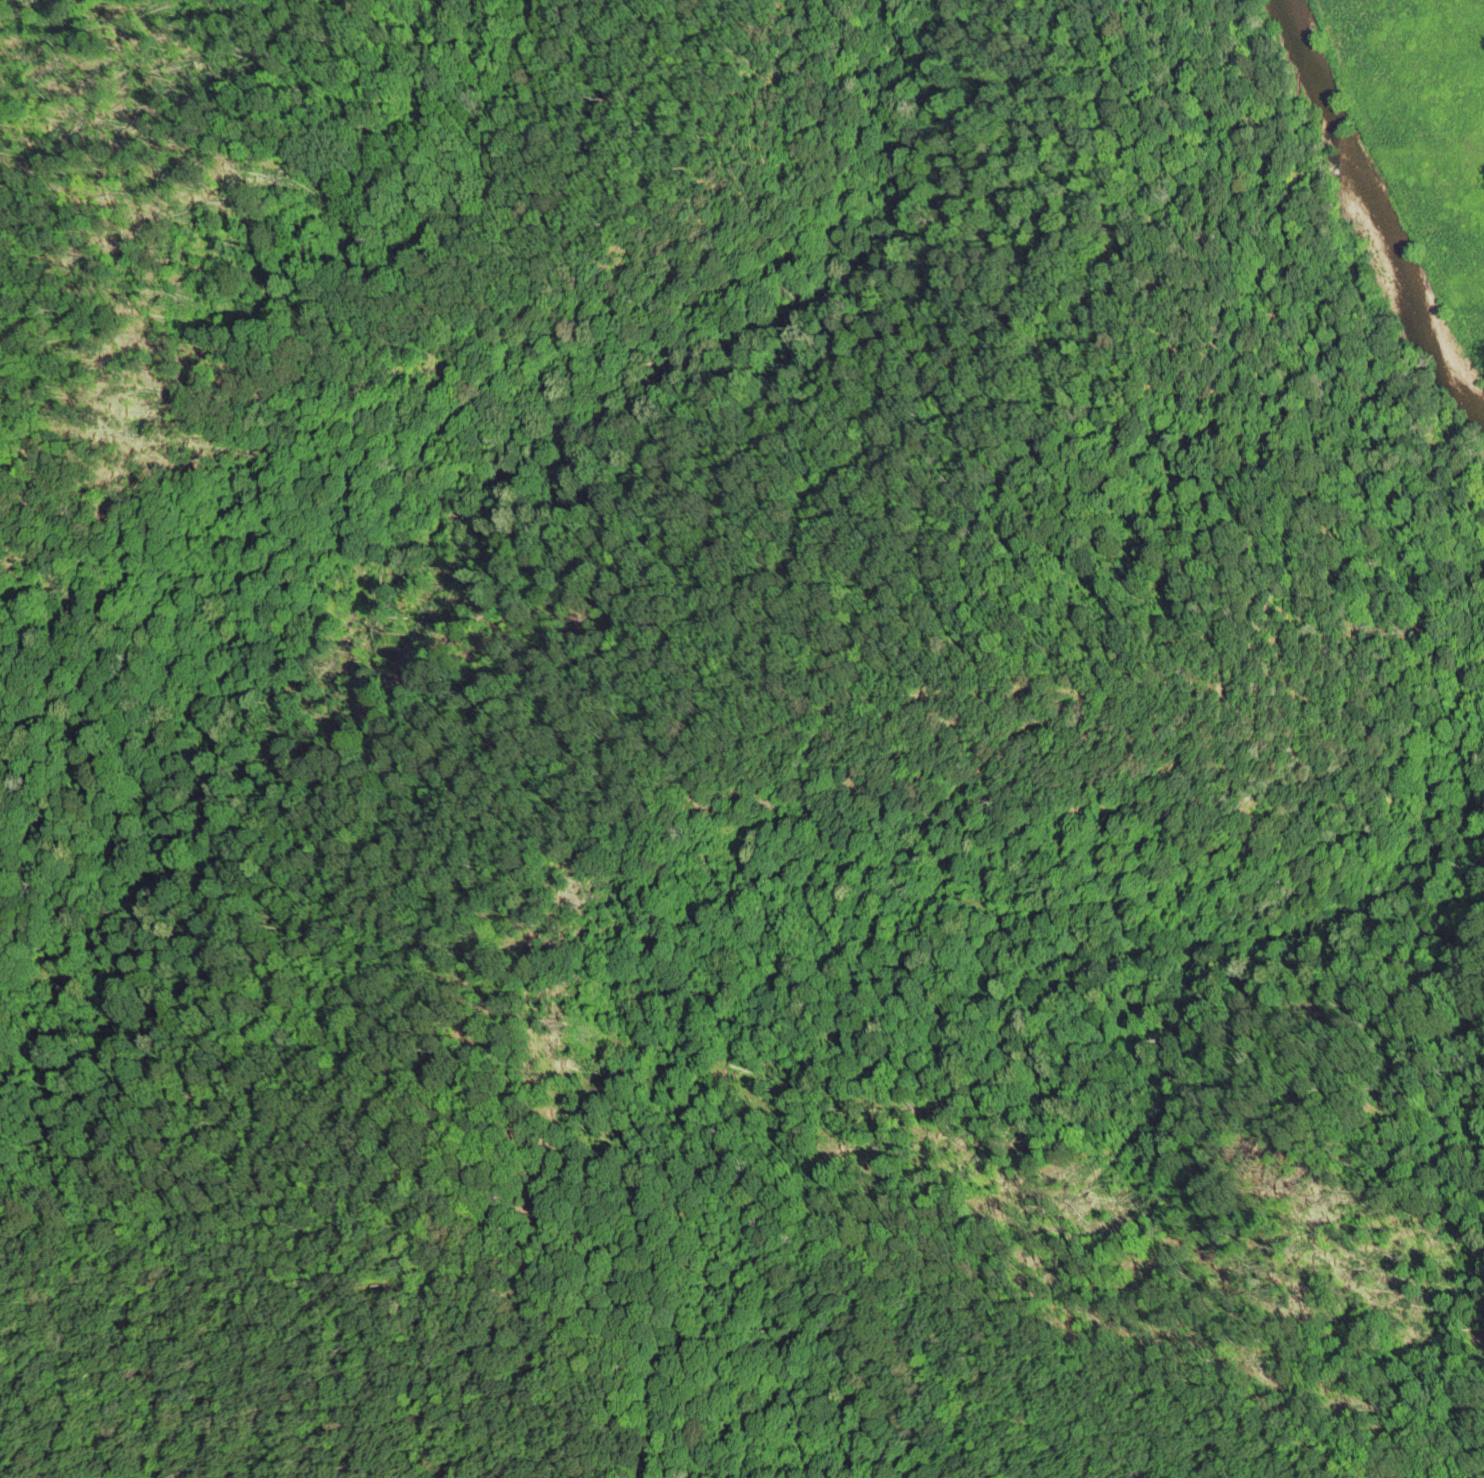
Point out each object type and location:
river: (1383, 225)

